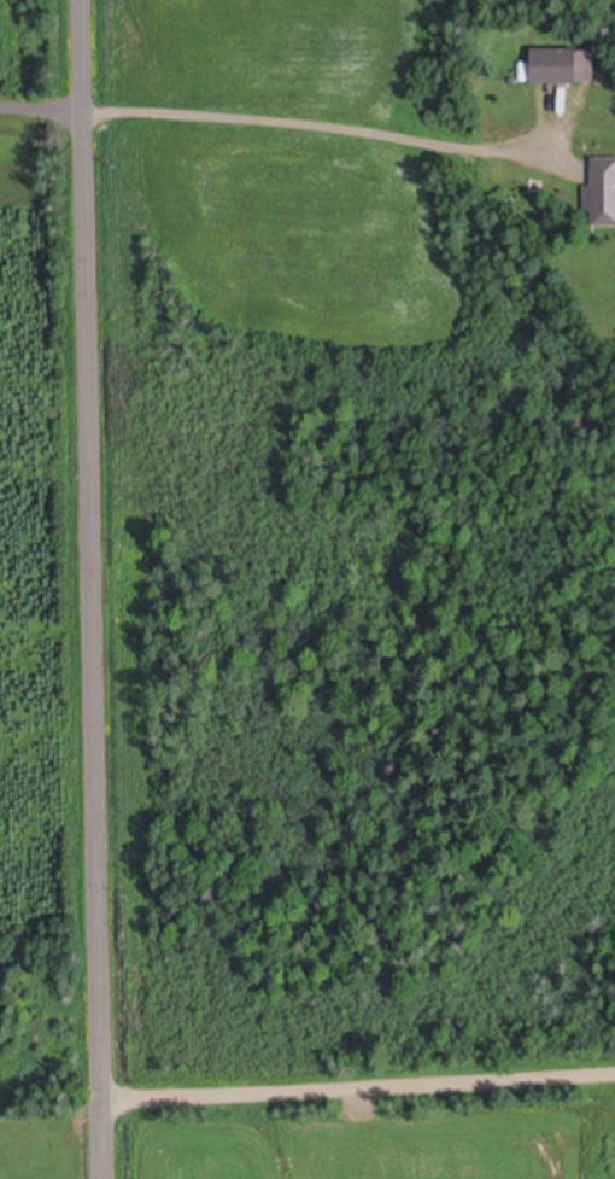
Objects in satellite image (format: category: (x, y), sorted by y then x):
building: (560, 65)
building: (602, 192)
road: (72, 589)
road: (347, 1073)

